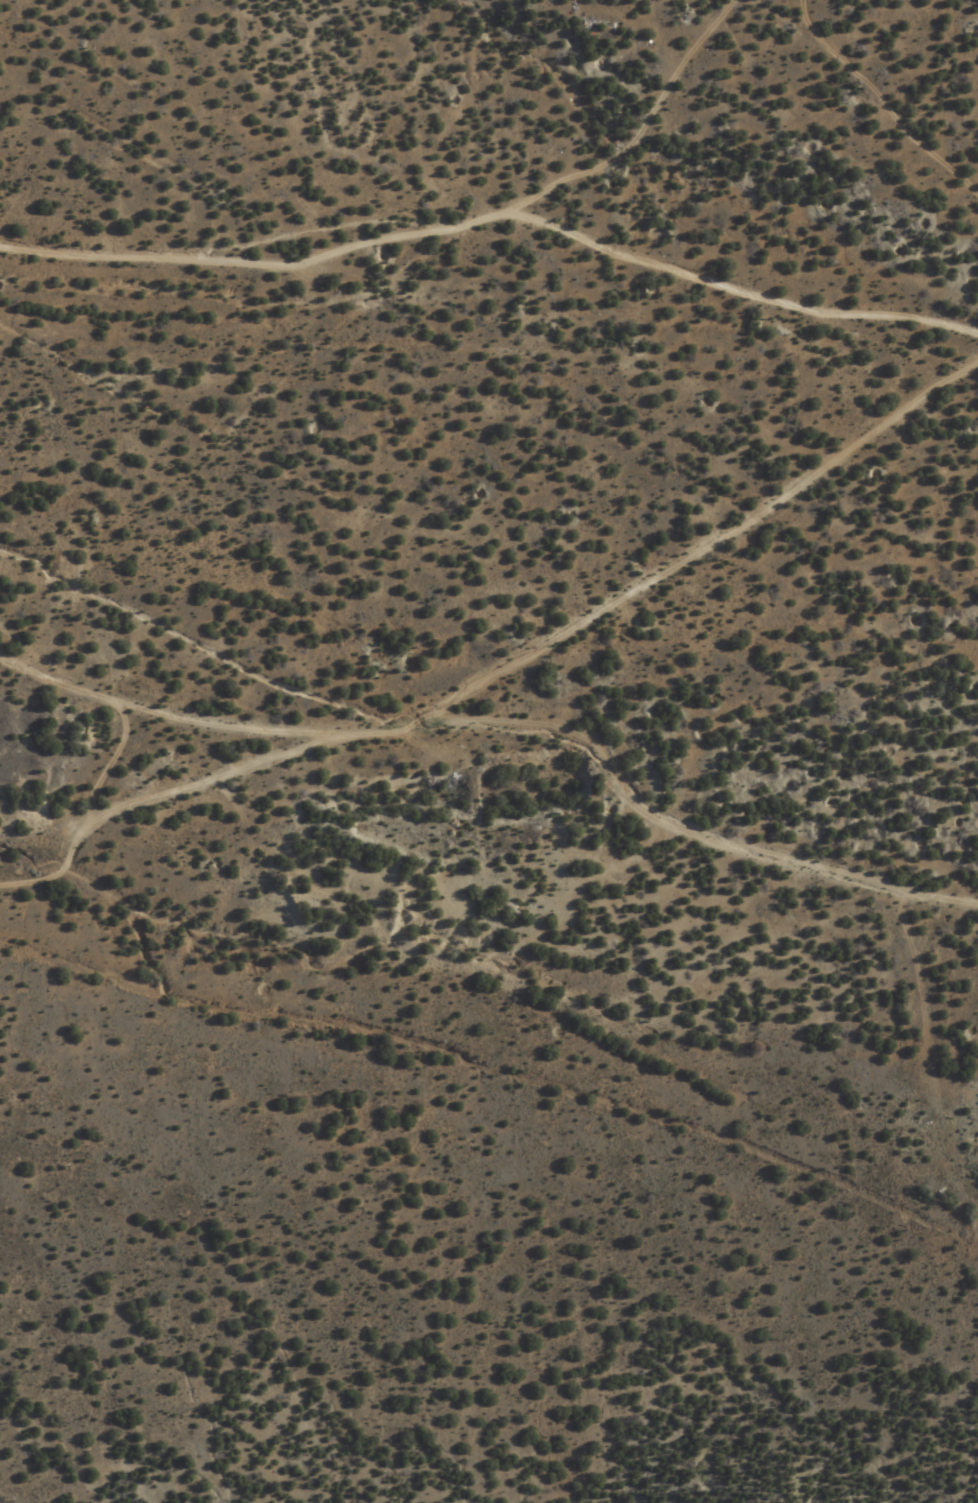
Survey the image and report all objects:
road: (620, 104)
road: (259, 260)
road: (745, 274)

